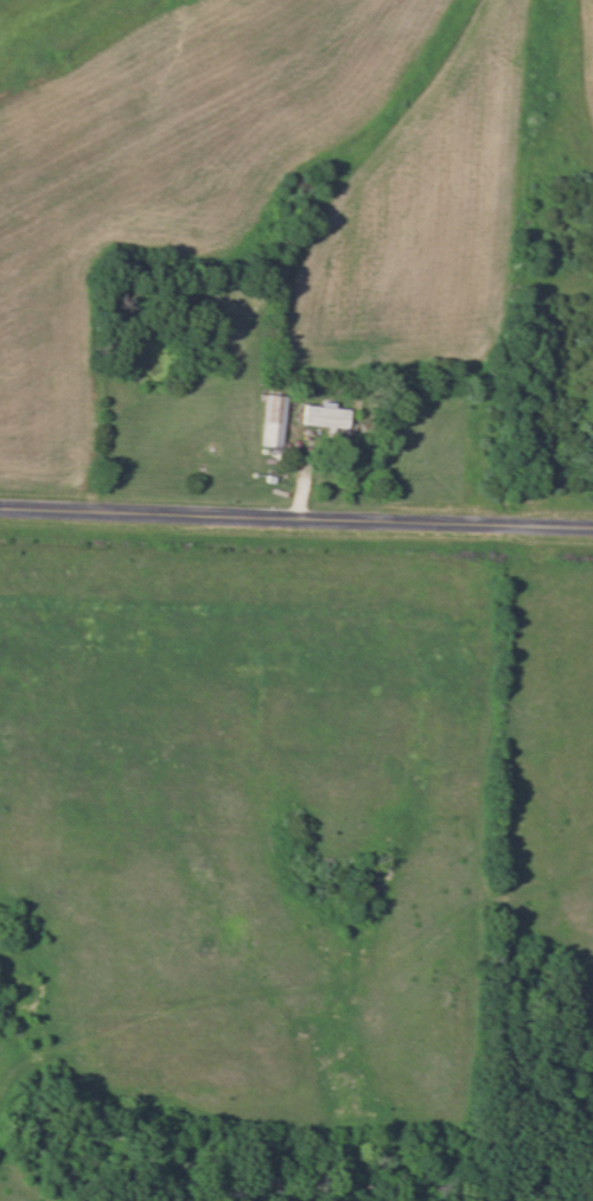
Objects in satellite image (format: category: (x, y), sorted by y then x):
building: (324, 416)
building: (270, 421)
road: (295, 519)

